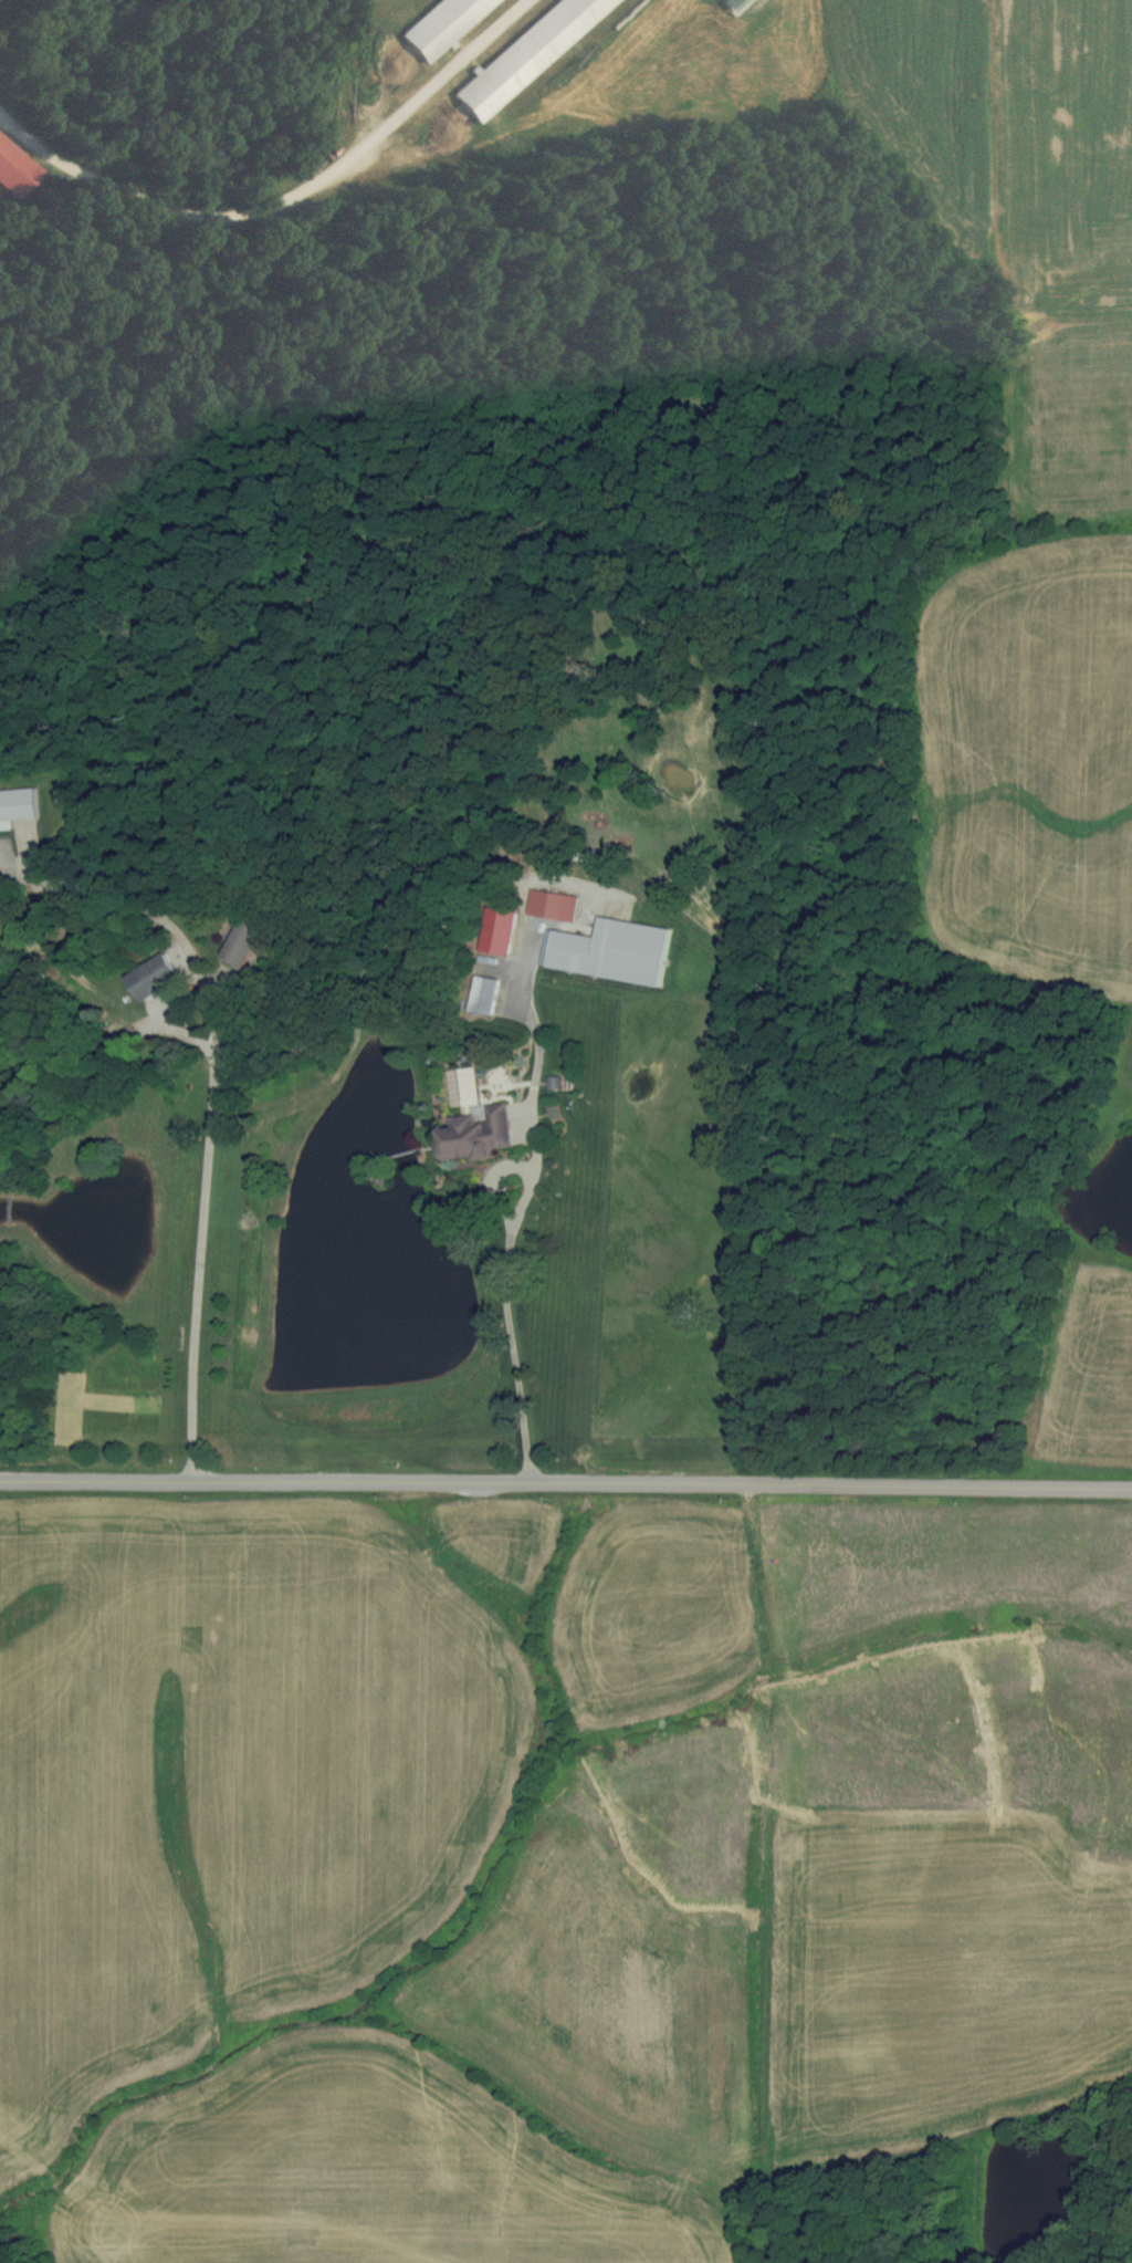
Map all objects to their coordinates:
building: (438, 24)
building: (524, 54)
road: (285, 201)
building: (17, 805)
building: (552, 905)
building: (499, 930)
building: (243, 942)
building: (610, 949)
building: (159, 972)
building: (484, 994)
building: (472, 1120)
road: (524, 1203)
road: (200, 1266)
road: (566, 1481)

